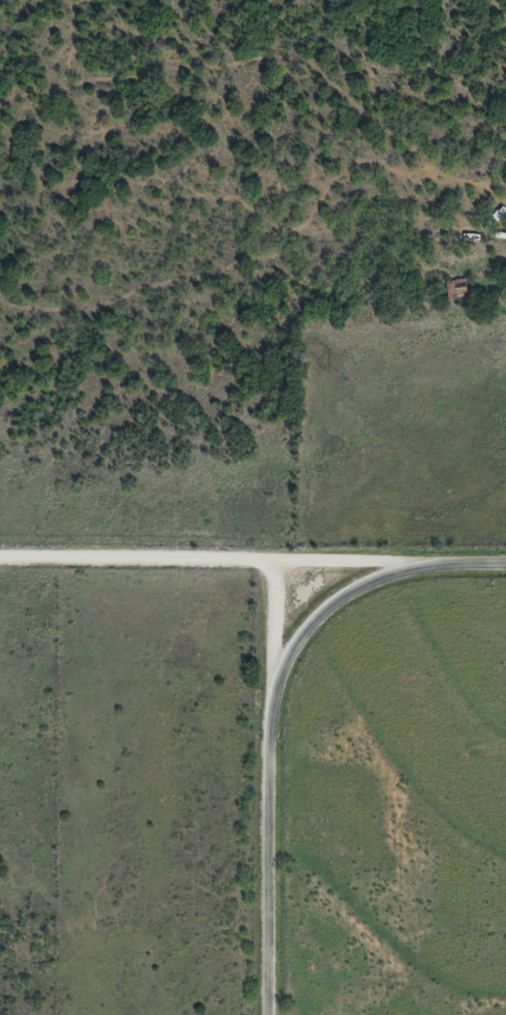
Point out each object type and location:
building: (457, 289)
road: (136, 574)
road: (389, 577)
road: (317, 722)
road: (286, 876)

